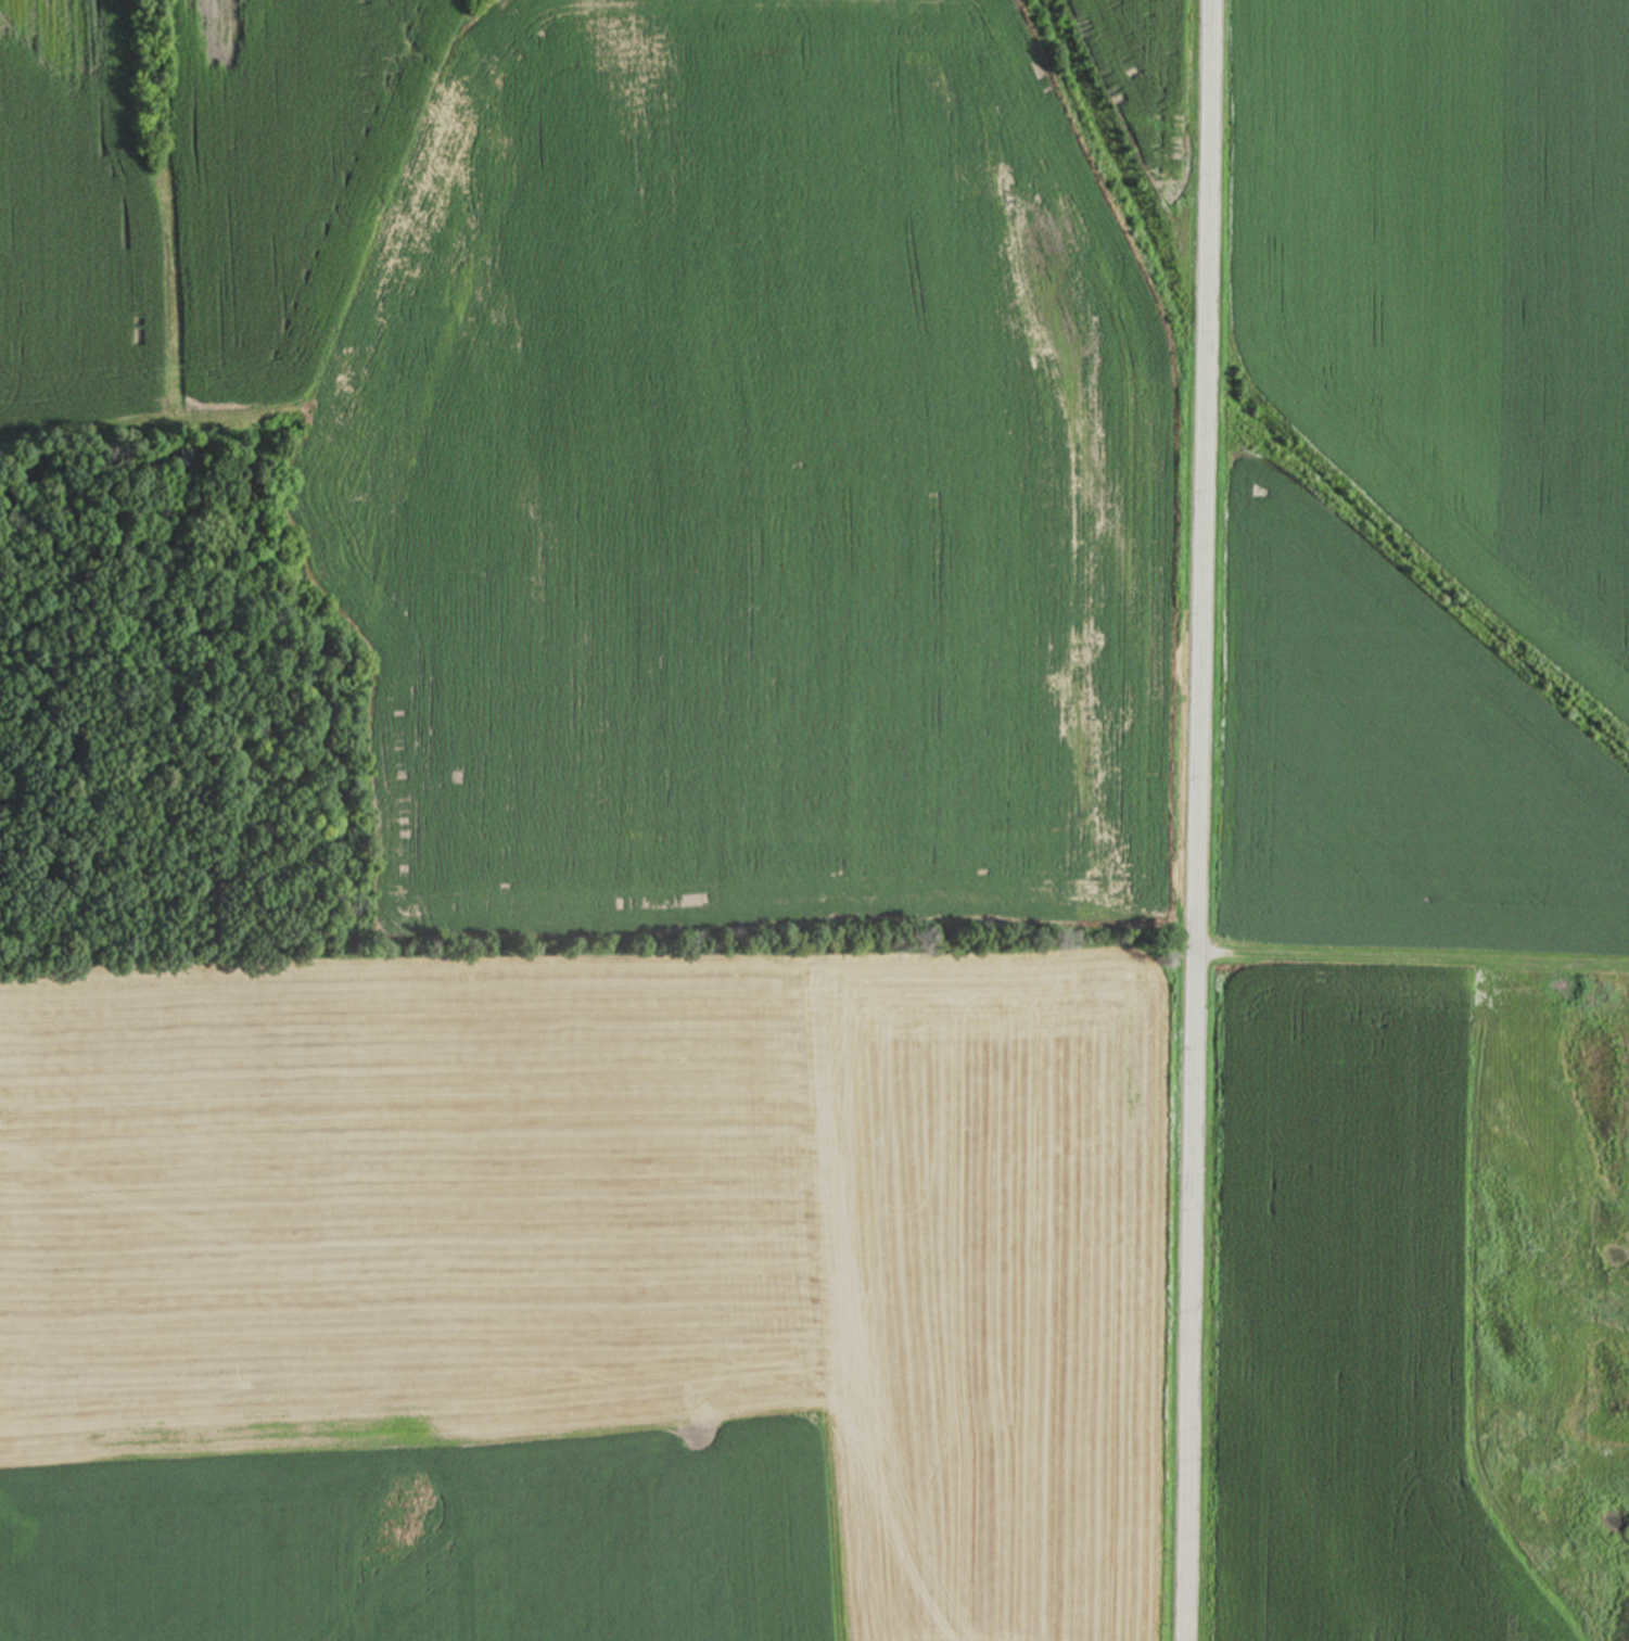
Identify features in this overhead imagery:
road: (1198, 820)

